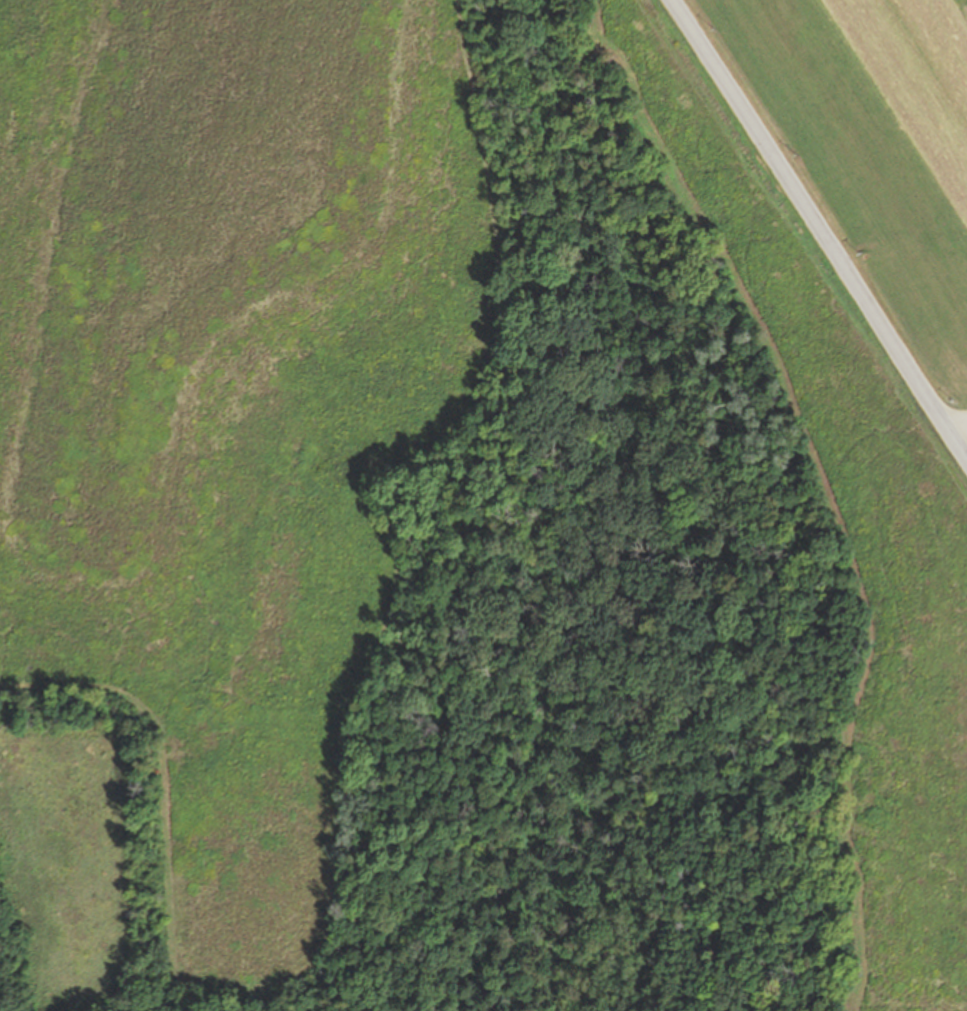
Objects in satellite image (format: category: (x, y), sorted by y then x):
road: (820, 228)

